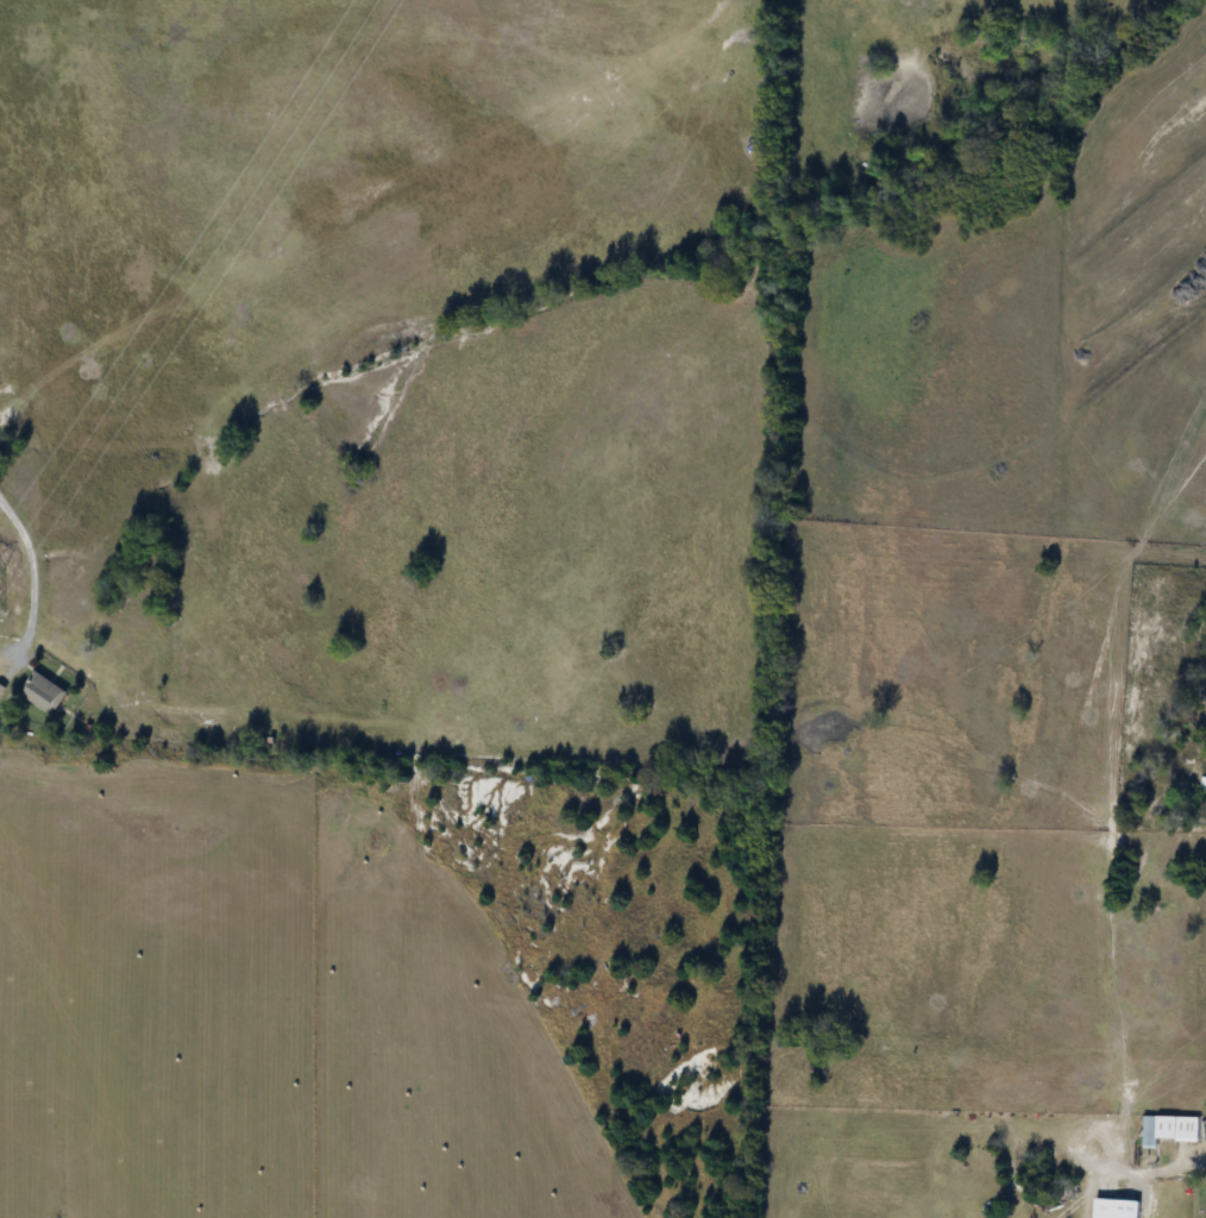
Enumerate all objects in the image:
road: (31, 572)
building: (45, 693)
building: (1204, 786)
building: (1188, 1130)
building: (1151, 1134)
building: (1117, 1210)

